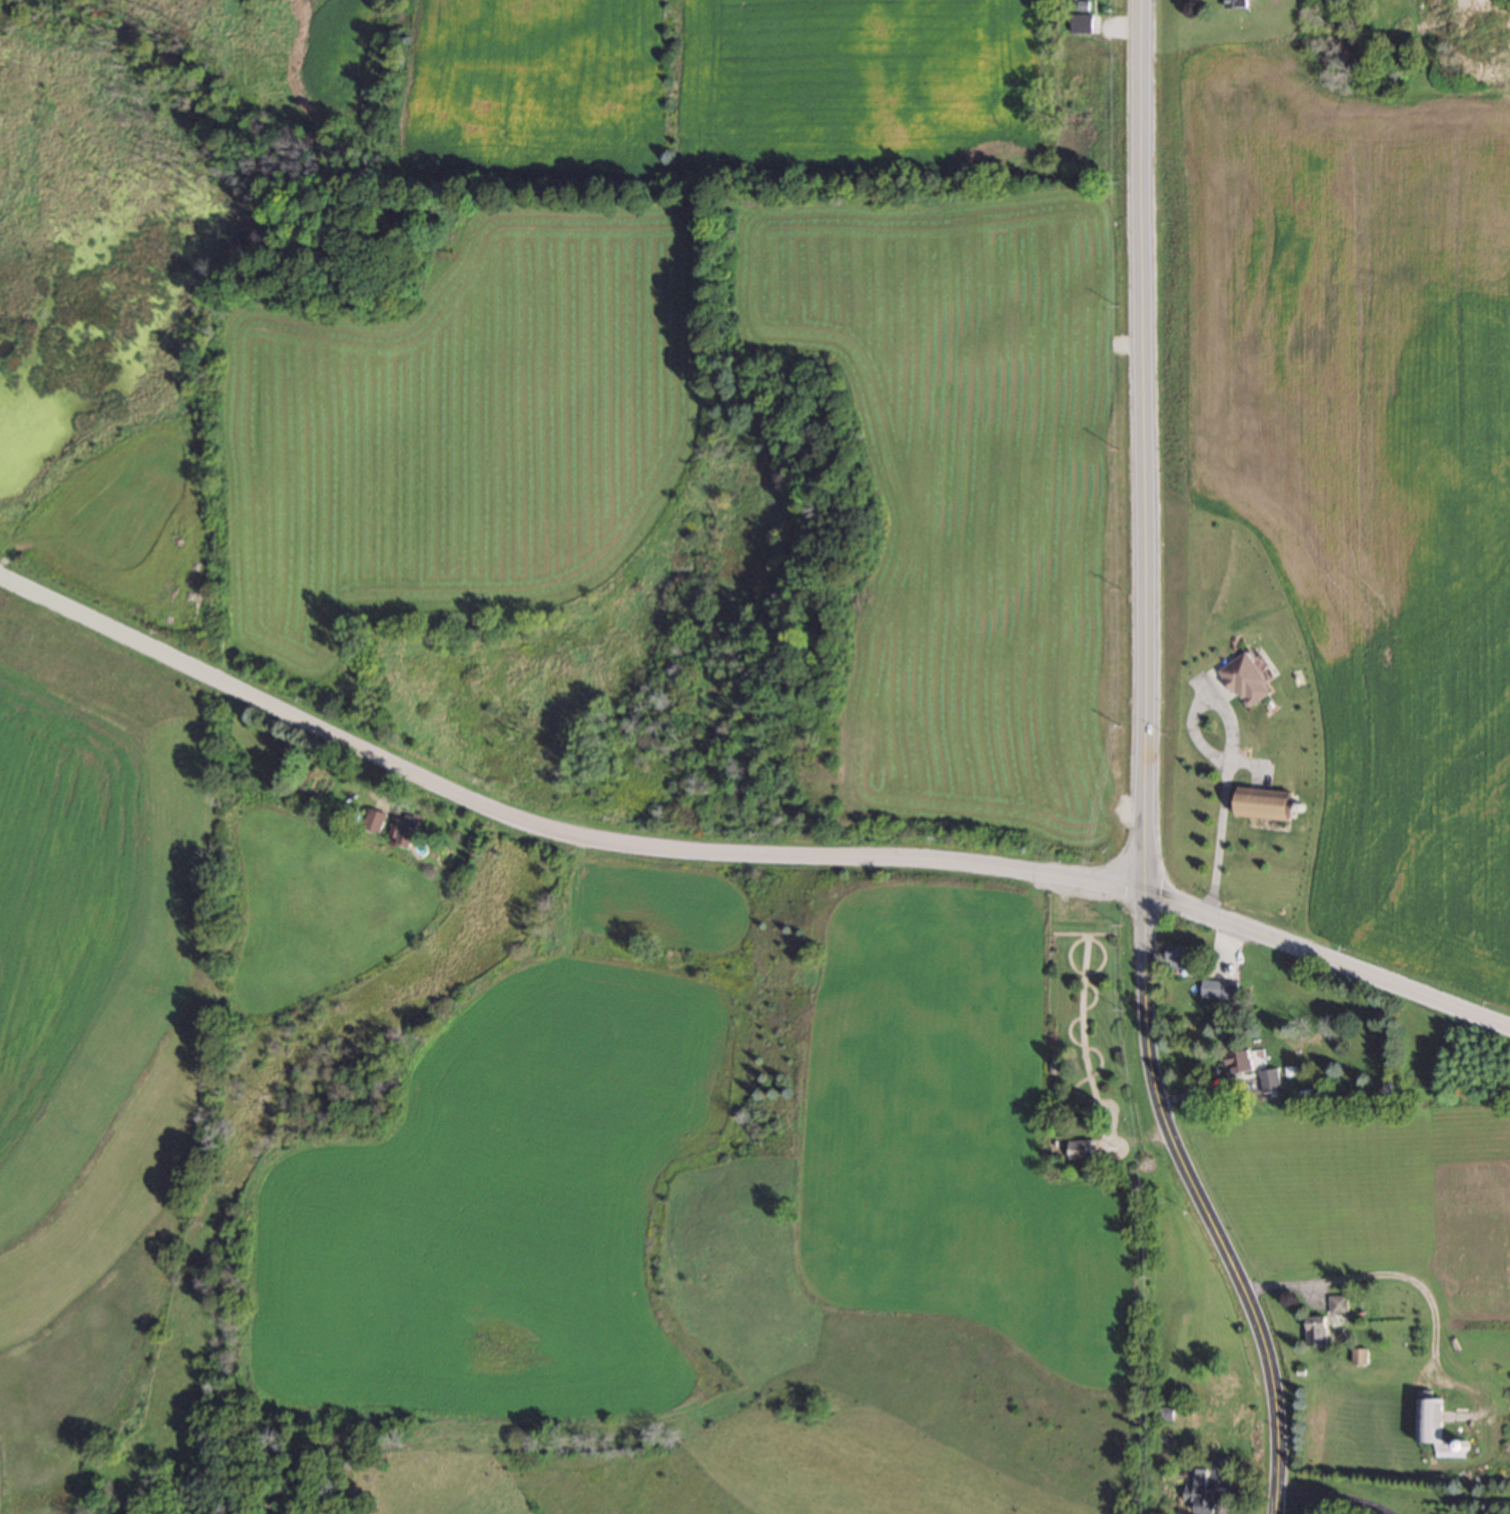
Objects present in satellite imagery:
building: (1082, 18)
building: (1246, 680)
road: (1227, 749)
road: (1150, 768)
building: (1267, 802)
building: (374, 818)
building: (403, 827)
road: (740, 847)
building: (1182, 955)
building: (1217, 988)
building: (1239, 1061)
building: (1268, 1081)
building: (1078, 1148)
road: (1375, 1275)
building: (1337, 1304)
building: (1316, 1330)
building: (1358, 1356)
building: (1433, 1423)
building: (1200, 1492)
road: (1337, 1494)

